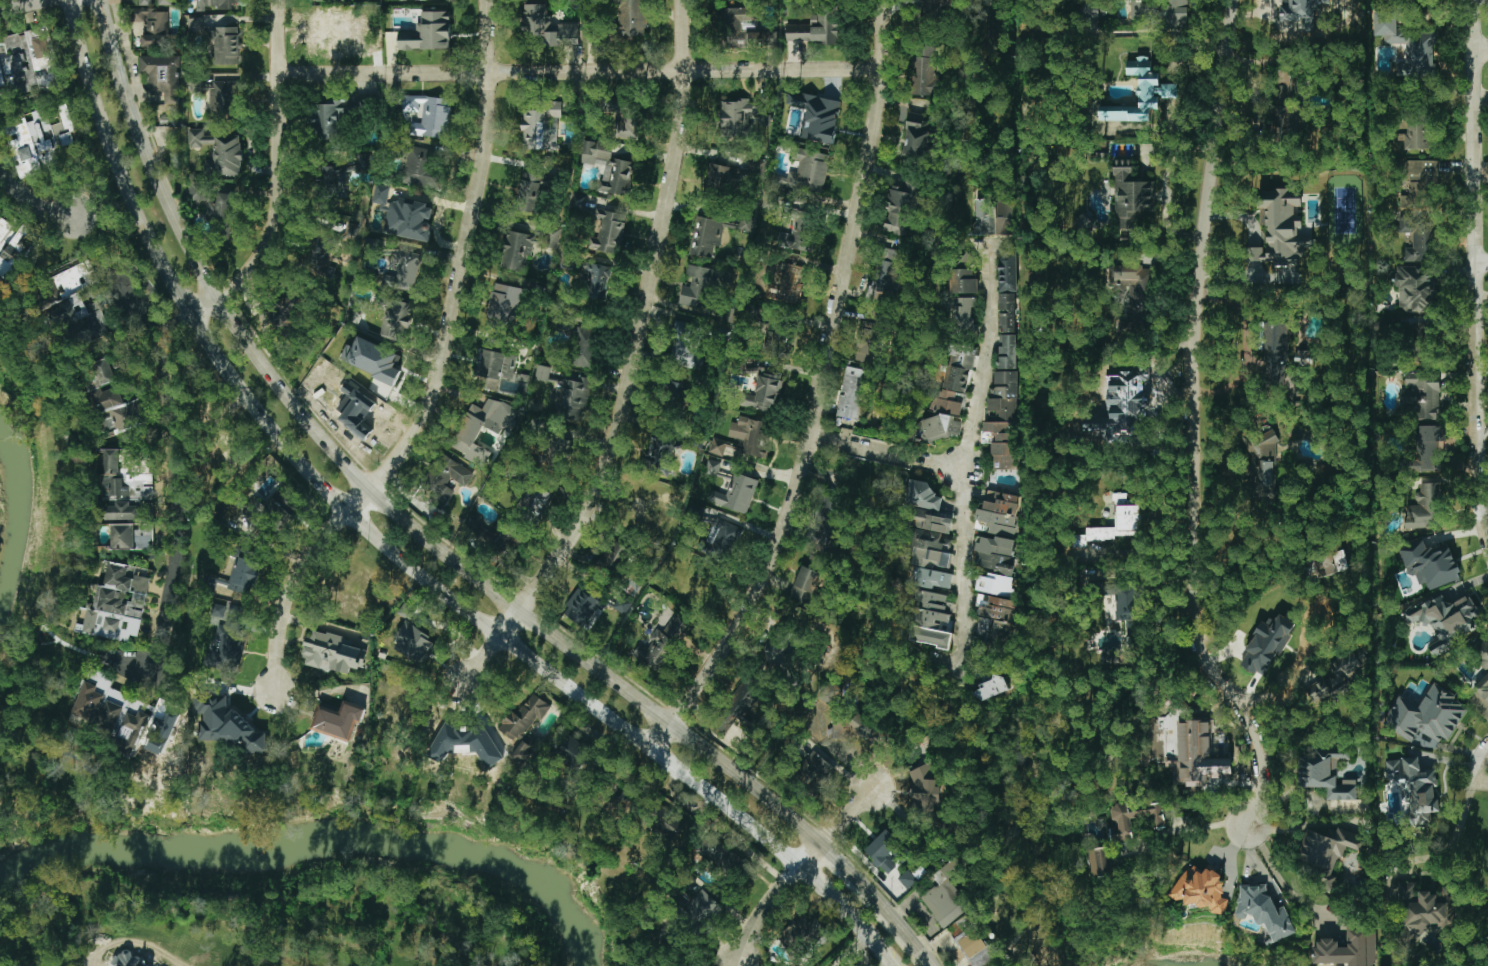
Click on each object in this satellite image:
building: (336, 0)
building: (404, 0)
building: (144, 2)
building: (165, 2)
building: (216, 4)
road: (23, 5)
building: (934, 7)
building: (1091, 14)
building: (1162, 14)
building: (1295, 17)
building: (632, 18)
building: (195, 24)
building: (548, 25)
building: (817, 27)
building: (155, 29)
building: (332, 32)
building: (427, 32)
building: (225, 45)
building: (1408, 46)
road: (1481, 49)
building: (924, 70)
road: (581, 72)
building: (162, 75)
building: (1283, 84)
building: (199, 87)
building: (1139, 94)
building: (223, 98)
building: (739, 116)
building: (817, 116)
building: (432, 117)
building: (630, 124)
building: (541, 127)
building: (1416, 132)
building: (919, 137)
building: (37, 139)
building: (219, 152)
road: (278, 160)
building: (757, 166)
building: (608, 167)
building: (422, 168)
building: (803, 174)
building: (339, 175)
building: (725, 178)
building: (1420, 186)
building: (531, 192)
building: (381, 194)
building: (1132, 199)
building: (214, 200)
building: (578, 200)
road: (34, 202)
building: (901, 208)
building: (982, 217)
building: (1007, 217)
building: (408, 219)
building: (1084, 224)
building: (353, 230)
building: (801, 230)
building: (608, 233)
building: (1281, 233)
building: (706, 238)
building: (1419, 239)
road: (989, 240)
building: (525, 246)
building: (16, 248)
building: (317, 256)
road: (1482, 261)
road: (1477, 270)
building: (403, 272)
building: (1008, 272)
building: (886, 274)
building: (596, 281)
building: (963, 281)
building: (792, 283)
building: (698, 286)
building: (1136, 289)
building: (1415, 289)
building: (286, 307)
building: (506, 308)
building: (67, 310)
building: (1007, 313)
building: (964, 317)
building: (395, 320)
building: (1124, 327)
building: (870, 338)
building: (777, 340)
building: (493, 346)
building: (583, 347)
building: (685, 347)
building: (1007, 351)
building: (1275, 353)
road: (633, 366)
road: (438, 368)
building: (959, 368)
building: (542, 372)
building: (680, 388)
building: (104, 390)
building: (764, 391)
building: (851, 393)
road: (820, 394)
building: (1422, 394)
building: (571, 397)
road: (168, 413)
building: (128, 415)
building: (944, 417)
building: (1003, 420)
road: (1195, 424)
building: (469, 430)
building: (751, 435)
road: (82, 445)
building: (717, 447)
building: (1428, 447)
building: (1264, 448)
building: (660, 450)
road: (892, 450)
road: (972, 454)
building: (713, 467)
building: (110, 473)
building: (1264, 474)
building: (448, 480)
road: (371, 492)
building: (922, 495)
river: (20, 506)
building: (1425, 507)
building: (270, 510)
building: (120, 511)
building: (999, 513)
building: (932, 522)
building: (1117, 522)
building: (826, 523)
building: (122, 536)
building: (507, 540)
building: (931, 550)
road: (389, 551)
building: (994, 554)
building: (612, 555)
building: (1430, 562)
building: (1327, 565)
building: (244, 572)
building: (933, 578)
building: (806, 584)
building: (995, 584)
building: (121, 601)
building: (583, 605)
building: (1129, 607)
building: (218, 609)
building: (406, 609)
building: (994, 618)
building: (931, 619)
building: (1445, 619)
building: (224, 638)
road: (1304, 640)
building: (414, 643)
building: (662, 643)
building: (1267, 644)
road: (164, 646)
building: (777, 646)
building: (239, 649)
building: (1109, 657)
building: (1482, 660)
road: (954, 664)
building: (1337, 678)
building: (990, 688)
building: (89, 702)
building: (744, 702)
building: (825, 710)
building: (109, 718)
building: (1426, 718)
building: (338, 721)
building: (525, 726)
building: (229, 727)
building: (162, 731)
building: (131, 732)
building: (481, 744)
building: (1199, 755)
road: (1485, 759)
building: (818, 769)
building: (1325, 774)
road: (1487, 774)
building: (1415, 788)
building: (927, 796)
building: (667, 822)
building: (1122, 823)
road: (1196, 827)
road: (1455, 836)
river: (319, 840)
building: (887, 851)
building: (1327, 853)
building: (722, 858)
building: (1099, 862)
road: (797, 868)
road: (847, 875)
building: (907, 879)
road: (1281, 880)
building: (1201, 889)
building: (945, 896)
building: (1426, 907)
building: (1264, 911)
building: (699, 912)
building: (802, 934)
road: (899, 934)
building: (971, 941)
building: (1348, 949)
river: (1189, 964)

